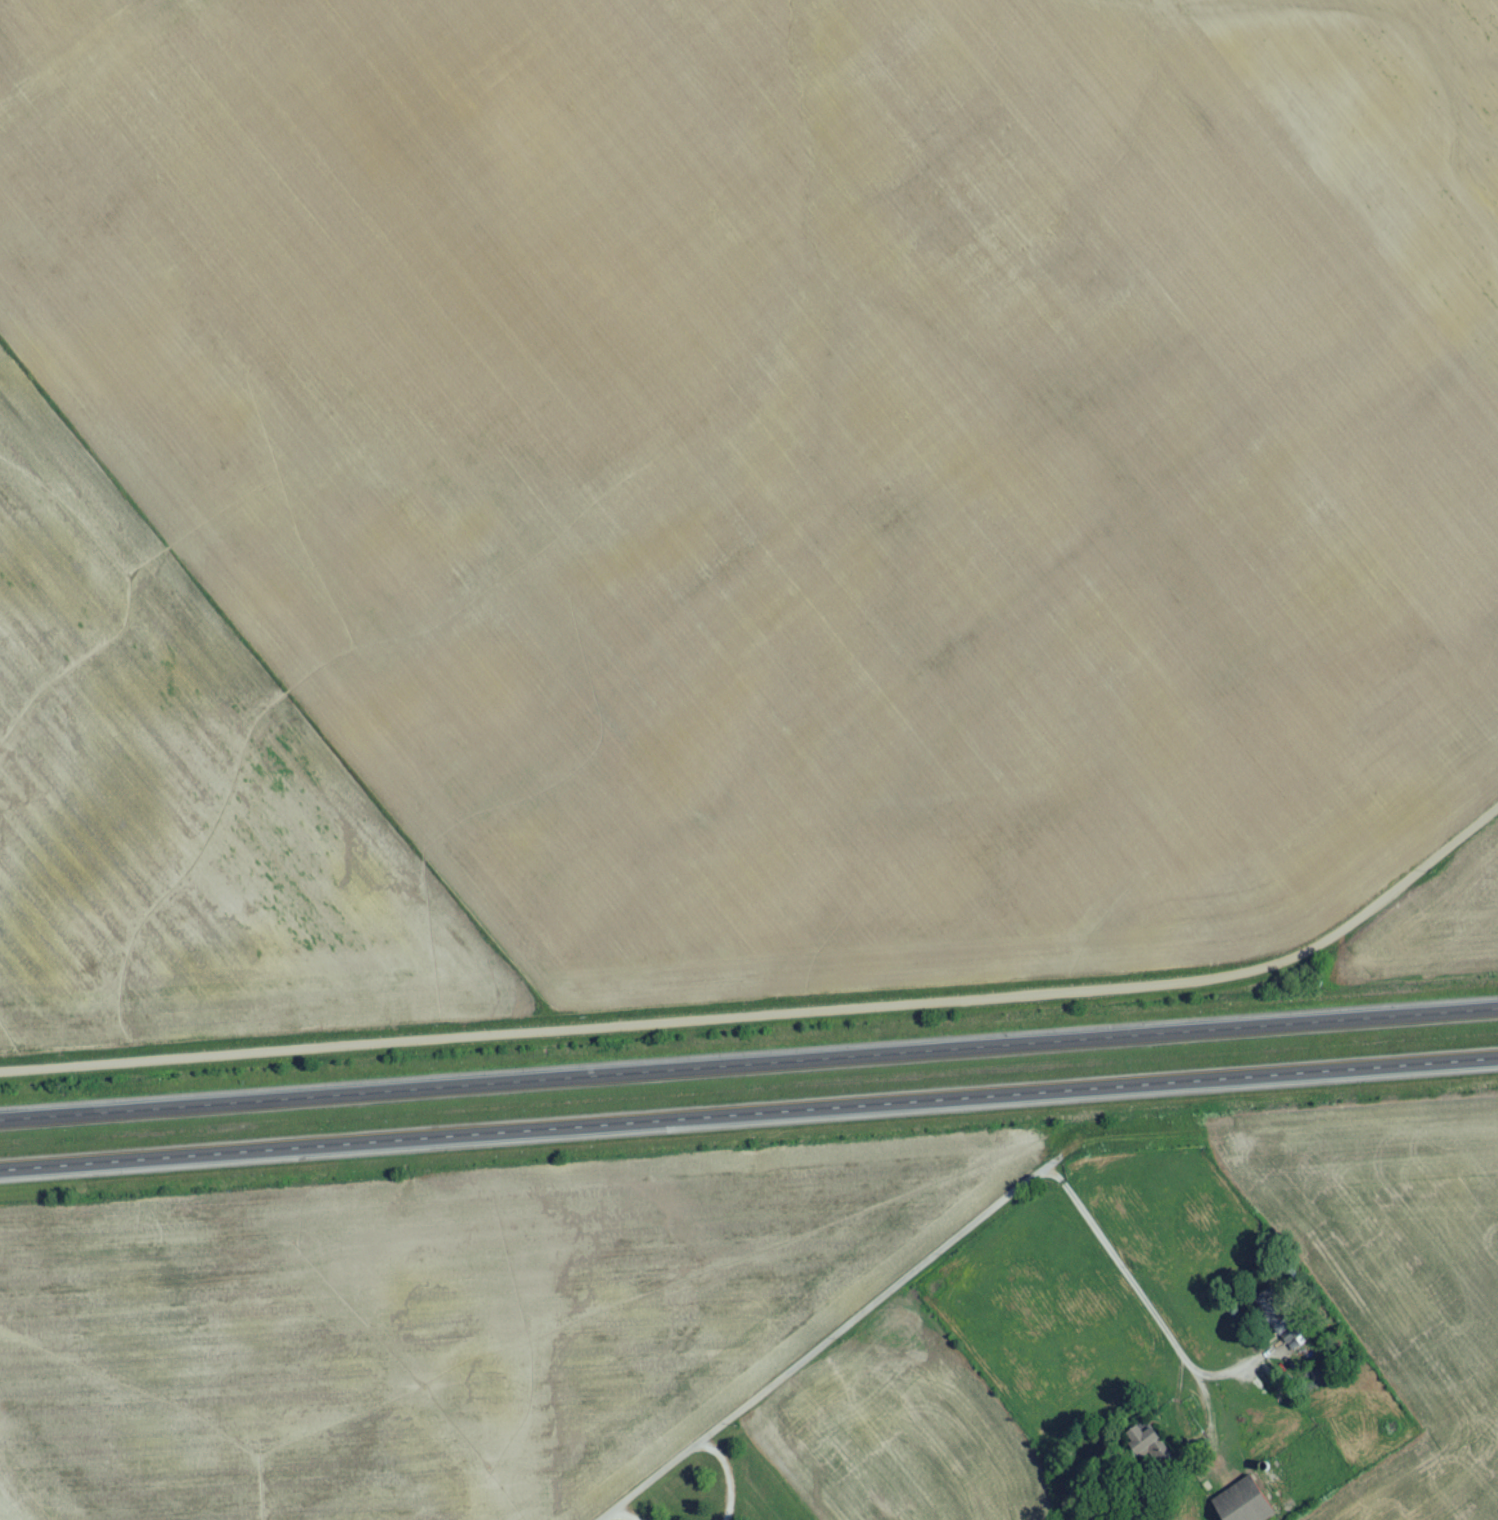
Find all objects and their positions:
road: (775, 1020)
road: (748, 1064)
road: (749, 1118)
road: (1116, 1272)
building: (1279, 1321)
road: (830, 1347)
building: (1146, 1443)
road: (729, 1478)
building: (1245, 1505)
road: (627, 1516)

